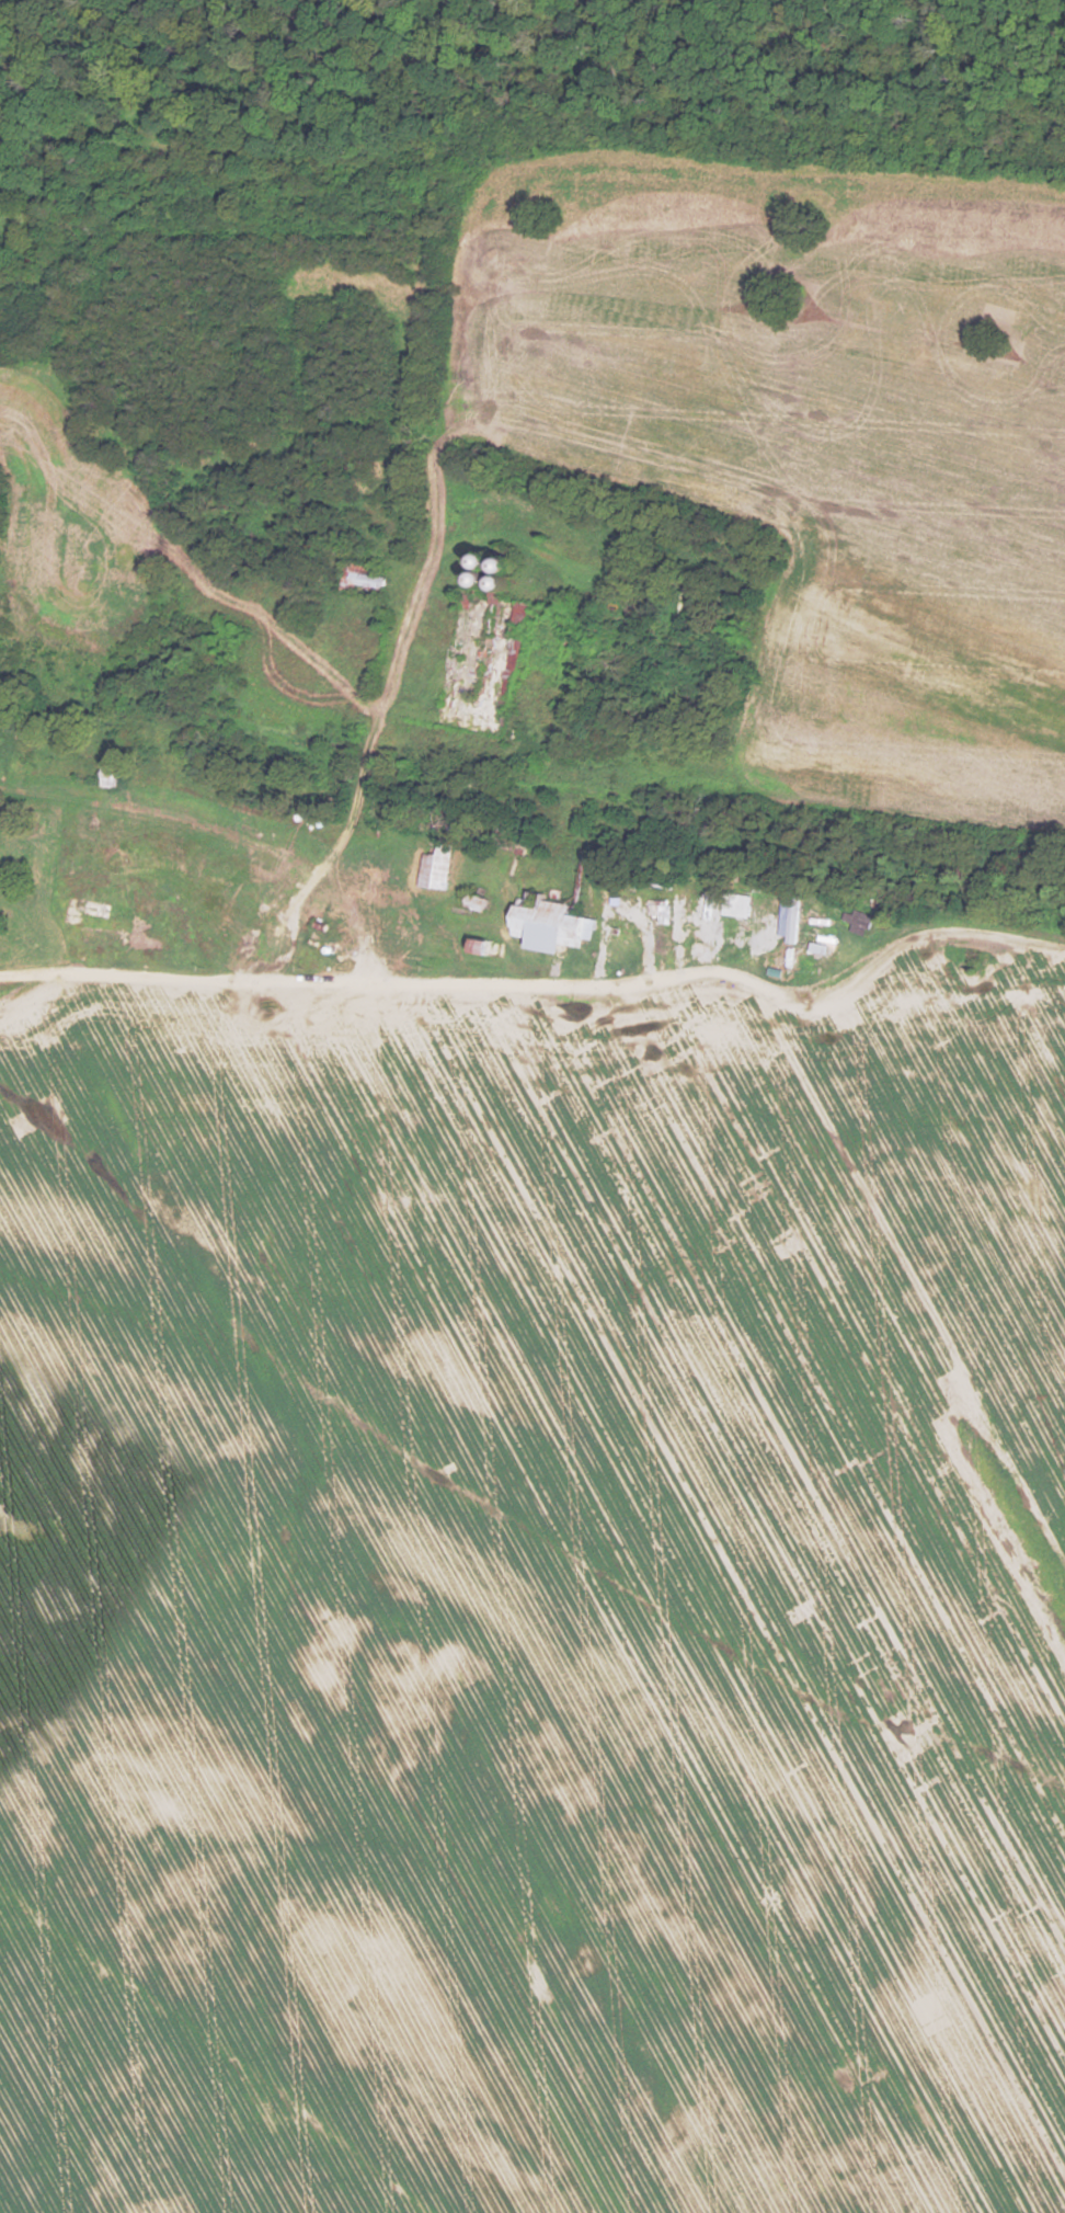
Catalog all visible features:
building: (362, 581)
building: (453, 644)
road: (378, 711)
building: (104, 779)
building: (434, 866)
building: (111, 911)
building: (744, 911)
building: (789, 920)
building: (856, 922)
building: (548, 926)
road: (926, 936)
building: (817, 947)
road: (234, 978)
road: (566, 979)

